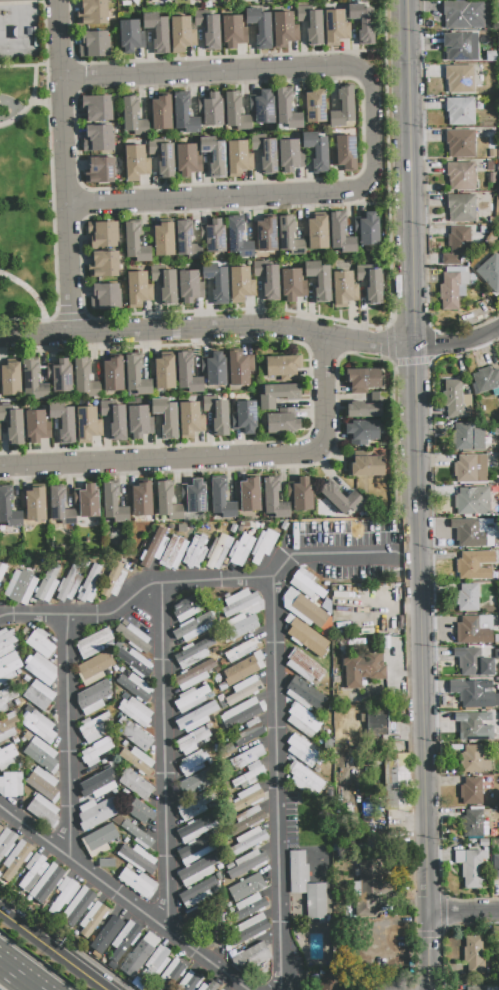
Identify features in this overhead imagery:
building: (14, 0)
building: (93, 13)
building: (464, 14)
building: (311, 23)
building: (363, 23)
building: (336, 27)
building: (208, 28)
building: (260, 28)
building: (284, 30)
building: (232, 31)
building: (158, 33)
building: (181, 34)
building: (130, 36)
building: (94, 44)
building: (461, 46)
road: (375, 52)
building: (491, 56)
road: (33, 65)
building: (460, 78)
road: (29, 102)
road: (48, 102)
building: (315, 106)
building: (344, 107)
building: (97, 108)
building: (264, 108)
building: (213, 111)
building: (287, 111)
building: (460, 111)
building: (236, 112)
building: (161, 113)
building: (185, 115)
building: (133, 117)
road: (378, 129)
building: (98, 139)
building: (460, 143)
building: (316, 151)
building: (345, 153)
building: (290, 155)
building: (214, 156)
building: (268, 157)
building: (163, 158)
building: (239, 158)
building: (187, 160)
building: (136, 163)
park: (26, 168)
road: (70, 168)
building: (100, 171)
building: (461, 175)
building: (491, 178)
road: (382, 203)
building: (462, 208)
building: (369, 230)
building: (318, 233)
building: (341, 234)
building: (103, 235)
building: (266, 235)
building: (215, 236)
building: (290, 237)
building: (184, 238)
building: (164, 239)
building: (238, 239)
building: (135, 243)
building: (457, 247)
building: (498, 247)
building: (103, 265)
building: (490, 271)
building: (268, 278)
building: (320, 281)
building: (166, 283)
building: (216, 283)
building: (371, 283)
building: (241, 284)
building: (291, 284)
building: (189, 287)
building: (139, 289)
building: (344, 289)
building: (453, 289)
road: (35, 296)
building: (105, 296)
road: (208, 328)
road: (458, 343)
building: (283, 366)
building: (240, 368)
building: (215, 370)
building: (165, 372)
building: (113, 374)
building: (188, 374)
building: (62, 376)
building: (137, 377)
building: (487, 378)
building: (10, 379)
building: (85, 379)
building: (363, 379)
building: (34, 381)
building: (278, 395)
building: (456, 400)
building: (367, 407)
building: (217, 414)
building: (167, 417)
building: (245, 417)
building: (191, 418)
building: (115, 419)
building: (140, 421)
building: (64, 422)
building: (282, 423)
building: (13, 424)
building: (88, 424)
building: (37, 426)
building: (362, 431)
building: (467, 436)
road: (420, 457)
road: (219, 459)
building: (368, 466)
building: (470, 468)
building: (218, 492)
building: (302, 494)
building: (249, 495)
building: (196, 497)
building: (341, 498)
building: (142, 499)
building: (274, 500)
building: (472, 500)
building: (57, 501)
building: (88, 501)
building: (166, 501)
building: (112, 502)
building: (35, 504)
building: (8, 509)
building: (473, 533)
building: (265, 546)
building: (154, 550)
building: (241, 550)
building: (174, 552)
building: (195, 552)
building: (218, 552)
road: (326, 553)
building: (468, 566)
building: (2, 570)
building: (487, 574)
building: (112, 583)
building: (48, 584)
building: (90, 584)
building: (306, 584)
building: (69, 585)
building: (20, 587)
road: (140, 597)
building: (468, 598)
building: (241, 604)
building: (306, 607)
building: (187, 609)
building: (240, 627)
building: (193, 628)
building: (475, 630)
building: (306, 636)
building: (133, 637)
building: (497, 639)
building: (7, 641)
building: (40, 643)
building: (93, 643)
building: (108, 645)
building: (122, 645)
building: (242, 650)
building: (194, 653)
building: (497, 654)
building: (135, 662)
building: (473, 662)
building: (8, 666)
building: (305, 667)
building: (362, 667)
building: (94, 668)
building: (115, 668)
building: (41, 669)
building: (243, 669)
building: (121, 670)
building: (194, 675)
building: (217, 678)
building: (135, 687)
building: (222, 687)
building: (244, 693)
building: (303, 693)
building: (471, 694)
building: (39, 695)
building: (125, 695)
building: (94, 697)
building: (6, 698)
building: (191, 698)
building: (135, 711)
building: (242, 714)
building: (194, 718)
building: (302, 718)
building: (377, 722)
building: (8, 726)
building: (39, 726)
building: (95, 727)
building: (474, 727)
building: (250, 731)
building: (134, 735)
building: (26, 736)
road: (72, 737)
building: (192, 741)
building: (125, 745)
building: (303, 751)
building: (96, 752)
building: (41, 755)
road: (170, 756)
building: (474, 756)
building: (7, 757)
building: (248, 757)
building: (137, 760)
building: (103, 761)
building: (193, 764)
building: (497, 764)
building: (250, 776)
building: (306, 776)
building: (397, 782)
building: (98, 783)
building: (195, 783)
building: (11, 784)
building: (43, 784)
building: (135, 784)
road: (282, 784)
building: (304, 788)
building: (472, 791)
building: (114, 792)
building: (247, 798)
building: (193, 807)
building: (476, 808)
building: (367, 810)
building: (43, 811)
building: (141, 813)
building: (95, 814)
building: (247, 820)
building: (473, 823)
building: (1, 828)
building: (196, 829)
building: (138, 834)
building: (99, 838)
building: (249, 841)
building: (6, 842)
building: (484, 842)
building: (495, 847)
building: (98, 851)
building: (194, 851)
building: (16, 859)
building: (138, 859)
building: (106, 862)
building: (247, 863)
building: (129, 866)
building: (471, 866)
building: (495, 867)
building: (33, 871)
building: (197, 871)
building: (138, 883)
building: (46, 884)
building: (306, 885)
building: (247, 888)
building: (367, 888)
building: (200, 891)
building: (64, 895)
road: (126, 898)
building: (78, 906)
building: (249, 906)
road: (464, 914)
building: (92, 920)
building: (111, 927)
building: (249, 929)
building: (151, 939)
building: (124, 940)
road: (57, 948)
road: (430, 952)
building: (473, 954)
building: (251, 957)
building: (137, 958)
building: (157, 961)
building: (172, 972)
road: (17, 977)
building: (189, 981)
building: (327, 981)
building: (209, 986)
building: (482, 988)
building: (220, 989)
building: (222, 989)

